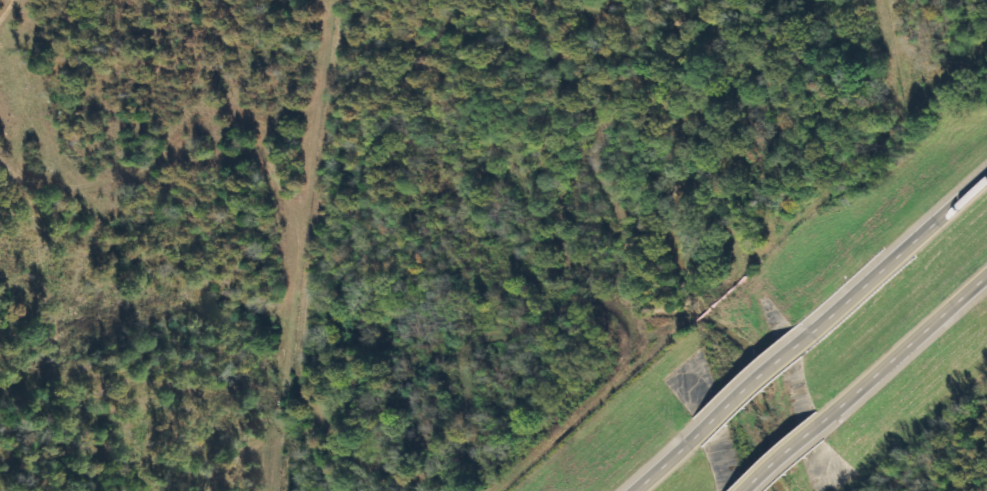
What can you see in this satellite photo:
road: (900, 261)
road: (908, 351)
road: (747, 396)
road: (791, 455)
road: (659, 473)

